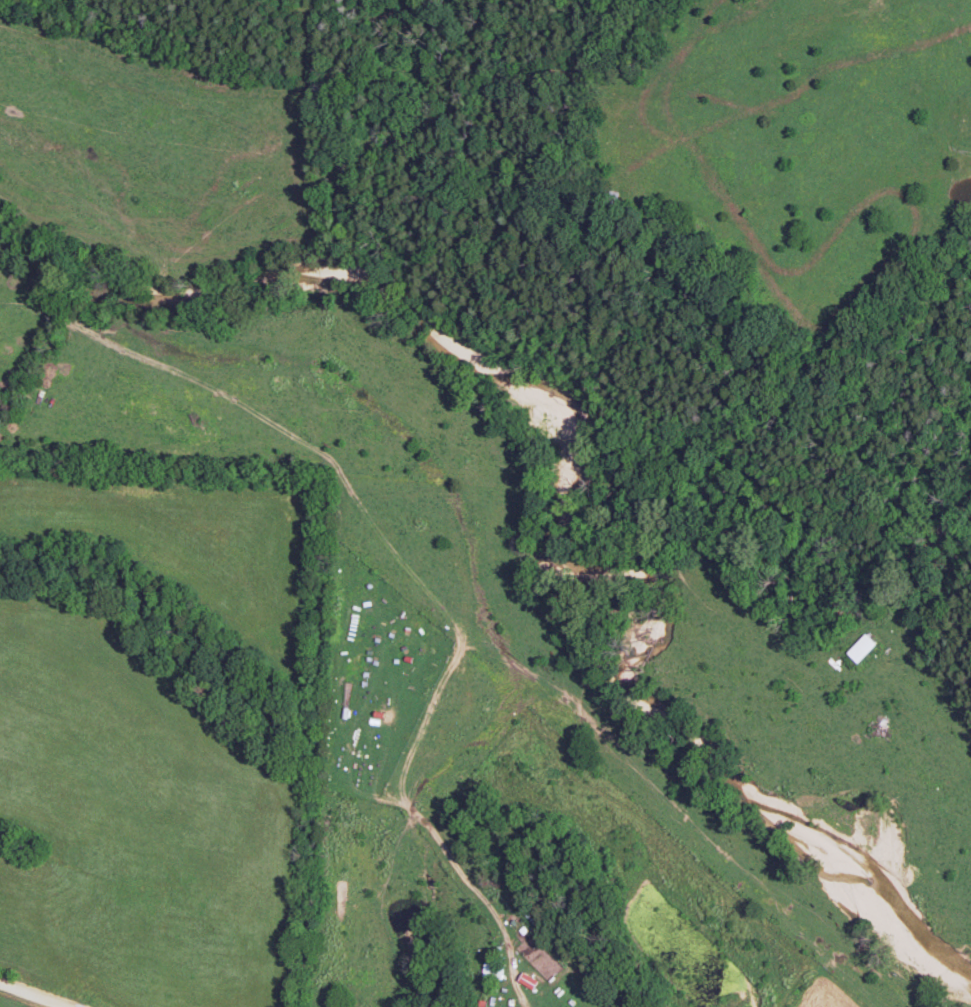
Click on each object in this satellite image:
building: (861, 648)
building: (529, 980)
road: (516, 989)
road: (35, 994)

